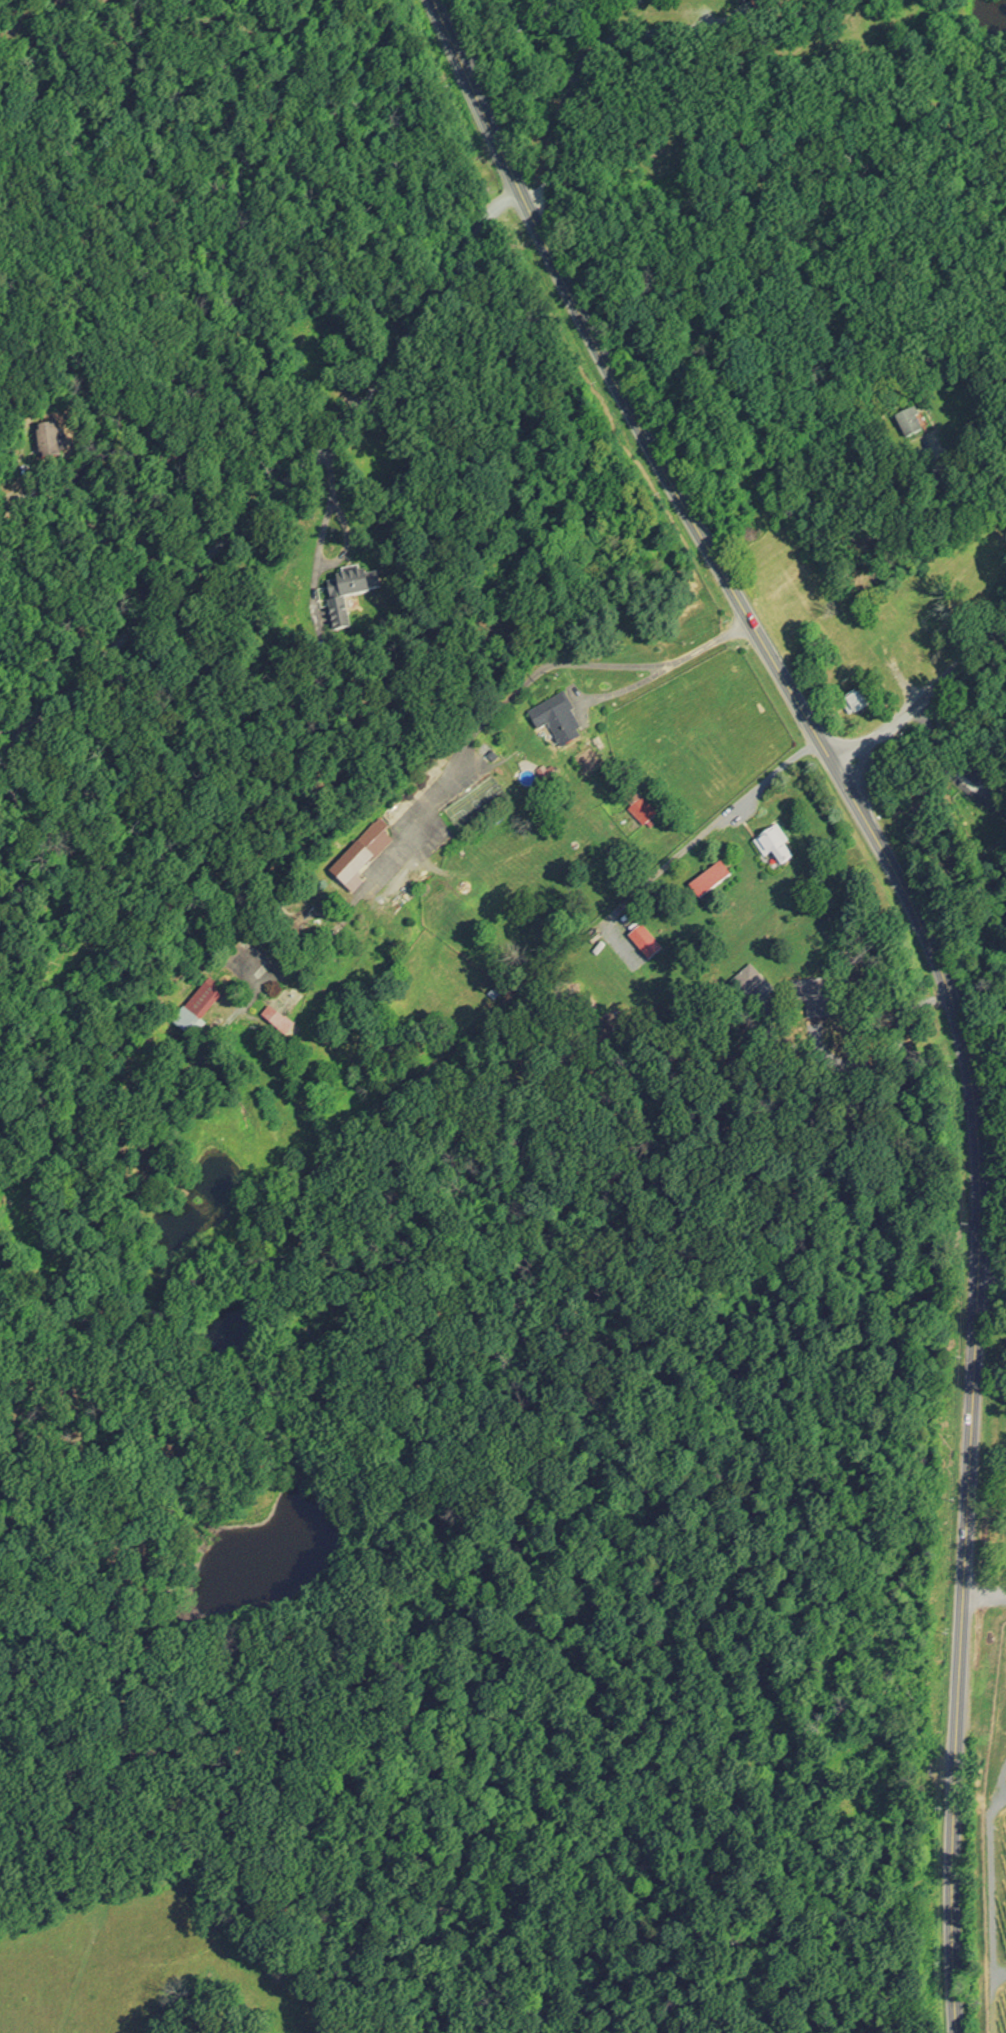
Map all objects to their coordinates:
road: (507, 36)
road: (581, 61)
road: (138, 466)
road: (278, 487)
building: (365, 583)
building: (937, 624)
building: (889, 650)
road: (921, 699)
building: (864, 701)
building: (566, 721)
road: (946, 772)
road: (440, 785)
building: (651, 812)
road: (714, 826)
building: (785, 847)
building: (366, 858)
building: (718, 881)
road: (936, 956)
building: (205, 1009)
road: (893, 1061)
road: (990, 1279)

